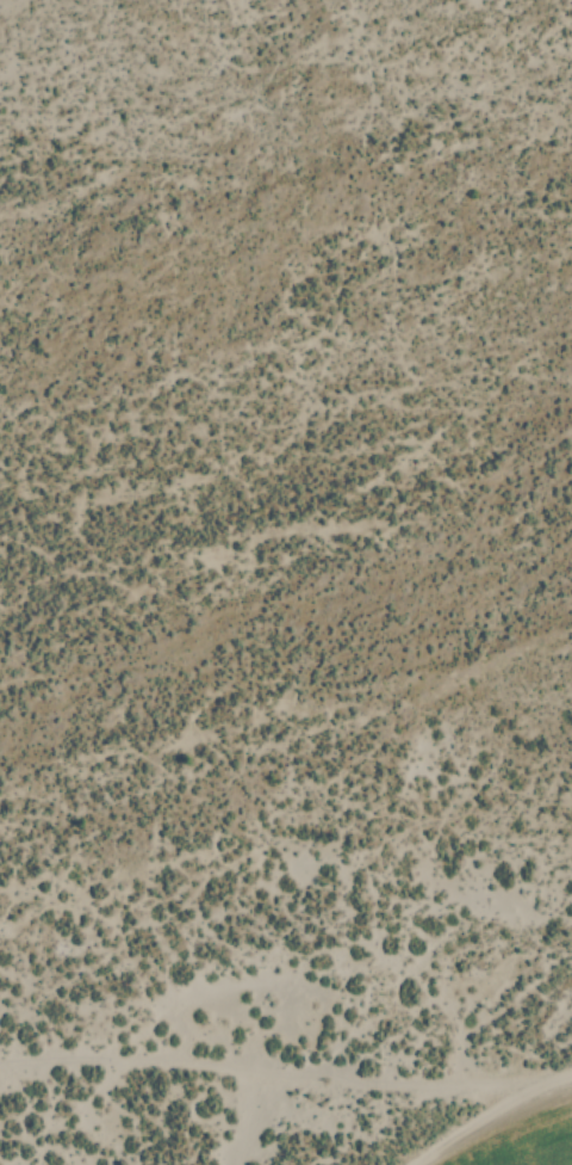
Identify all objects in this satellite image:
crop: (524, 1138)

